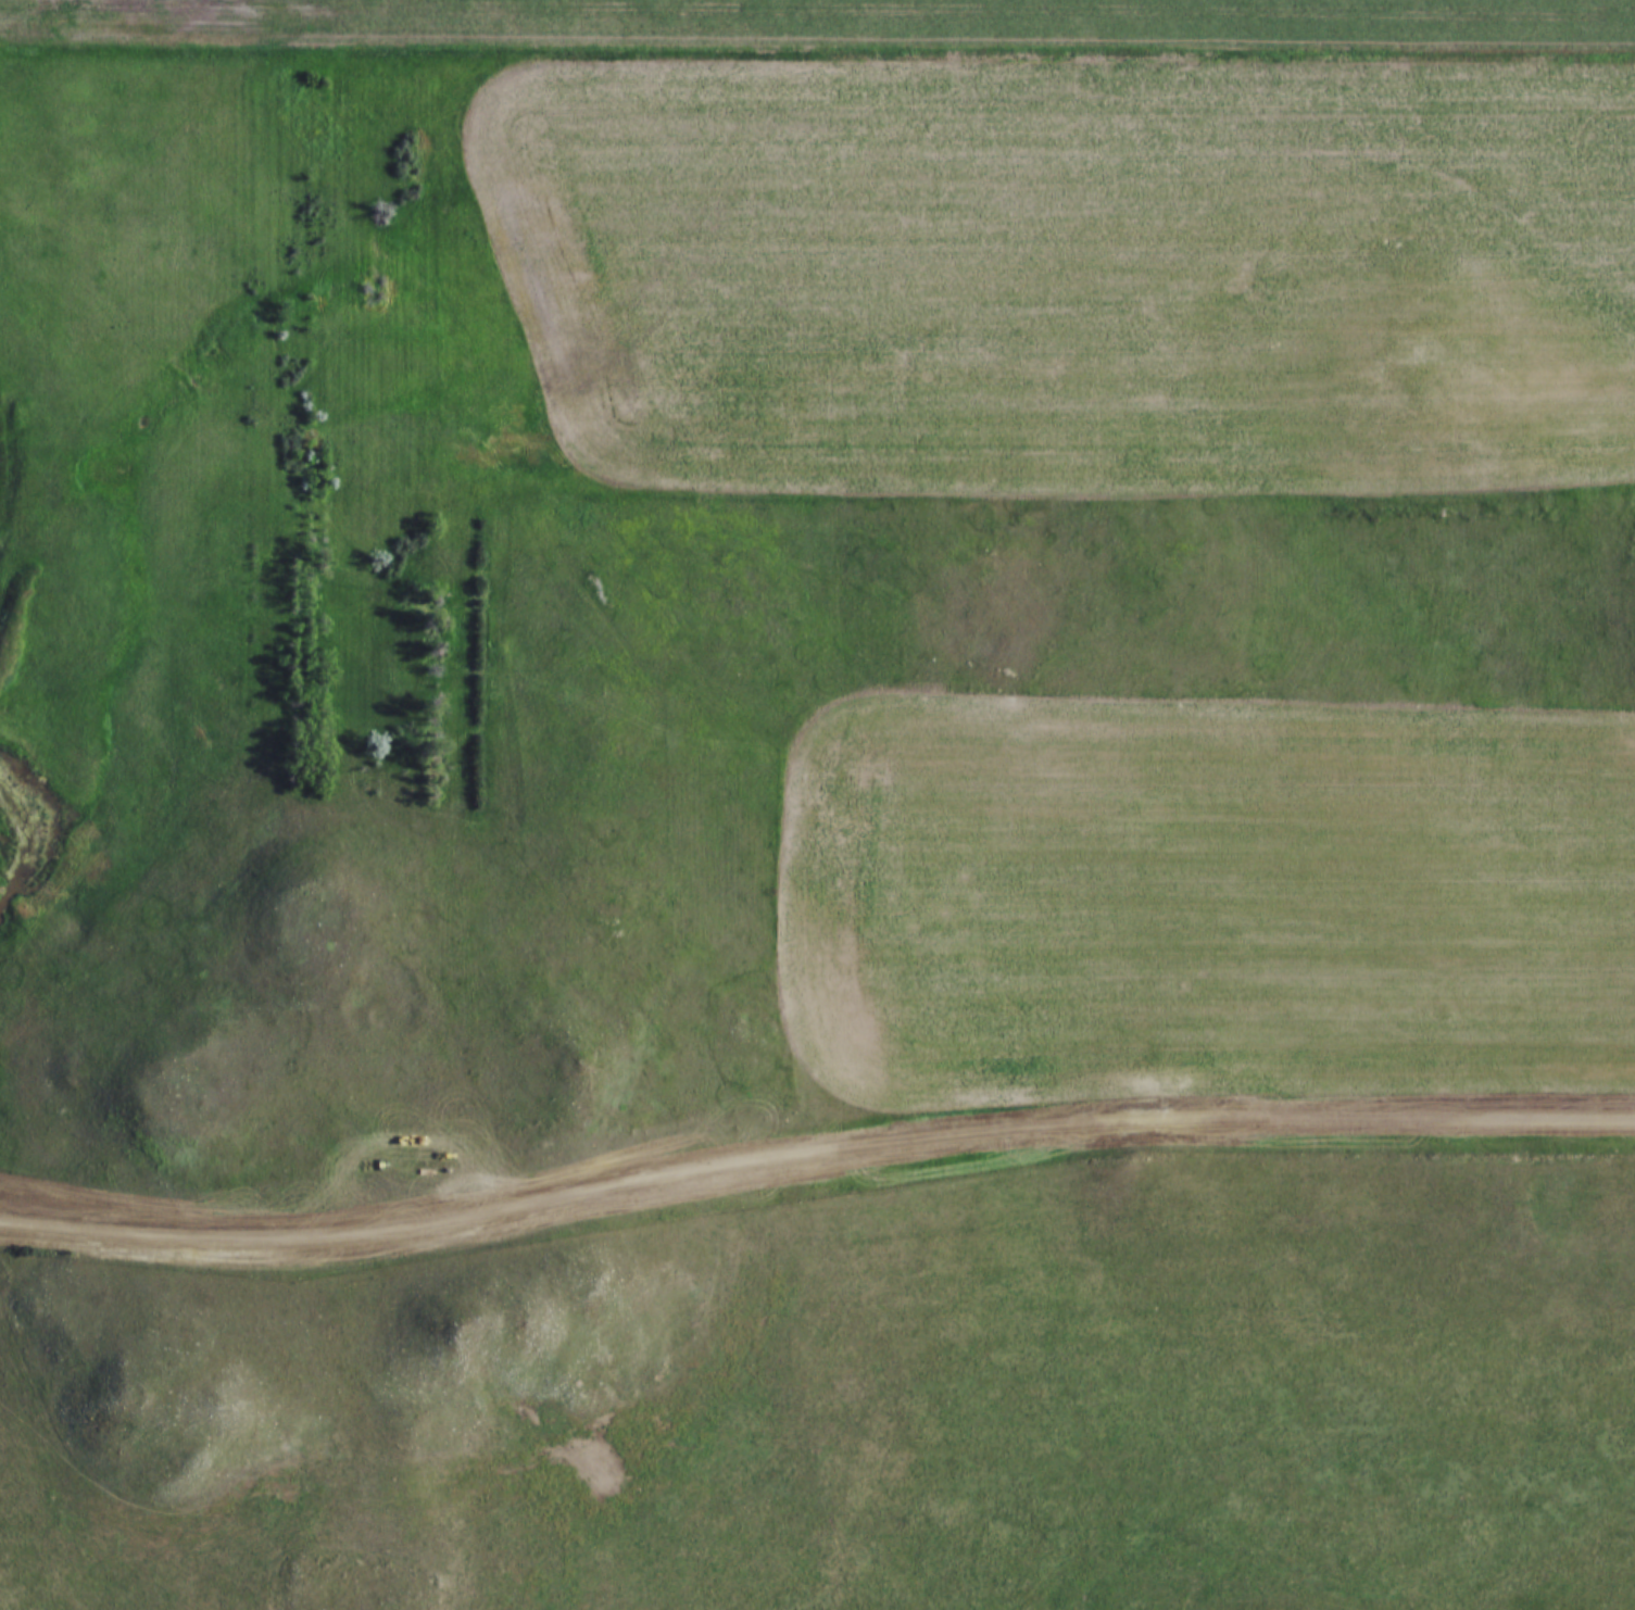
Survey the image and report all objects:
road: (814, 1149)

